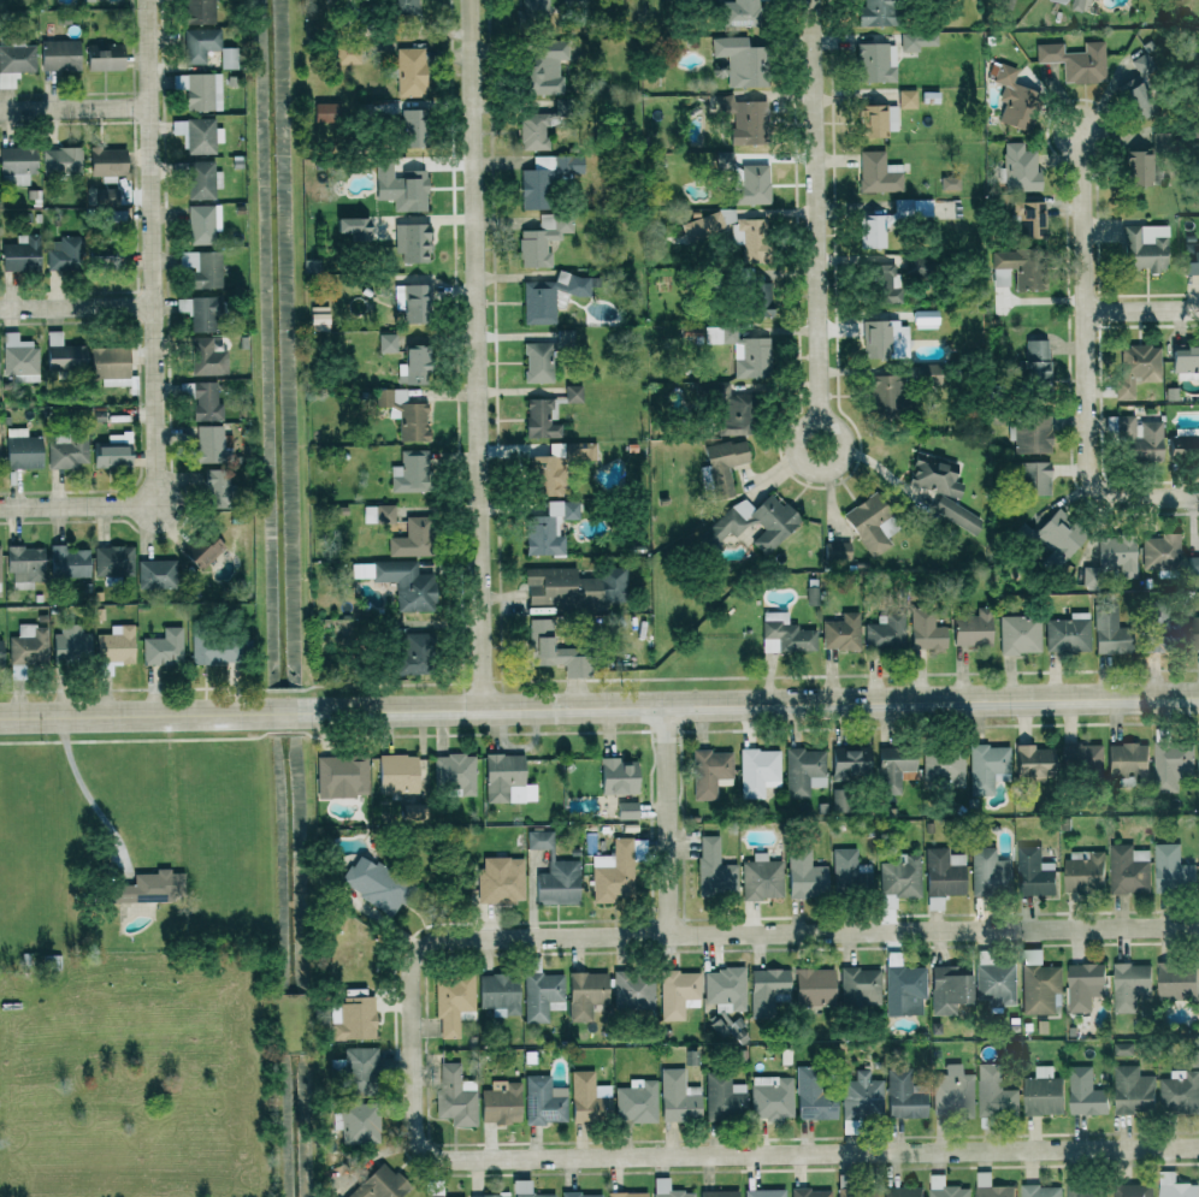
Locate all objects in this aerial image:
building: (584, 0)
building: (1062, 1)
building: (1079, 5)
building: (403, 7)
building: (534, 10)
building: (199, 11)
building: (740, 12)
building: (878, 13)
building: (920, 40)
building: (200, 43)
building: (347, 53)
building: (59, 54)
building: (105, 57)
building: (229, 57)
building: (740, 60)
building: (1076, 60)
building: (876, 61)
building: (16, 63)
building: (543, 65)
building: (409, 71)
building: (201, 90)
building: (1011, 94)
building: (1138, 97)
building: (906, 99)
road: (73, 109)
building: (325, 112)
building: (745, 119)
building: (878, 119)
building: (413, 126)
building: (533, 131)
building: (197, 135)
building: (1158, 138)
building: (61, 160)
building: (725, 160)
building: (107, 162)
building: (16, 165)
building: (1021, 167)
building: (1138, 167)
building: (879, 172)
building: (545, 177)
building: (202, 179)
building: (950, 182)
building: (752, 184)
building: (401, 188)
building: (107, 196)
building: (912, 208)
road: (817, 211)
building: (1029, 218)
building: (202, 223)
building: (705, 226)
building: (352, 227)
building: (875, 229)
building: (542, 238)
building: (750, 238)
building: (411, 241)
building: (1145, 247)
building: (65, 253)
road: (150, 253)
building: (20, 254)
building: (110, 255)
building: (1191, 259)
building: (917, 265)
building: (202, 267)
building: (1016, 269)
building: (882, 285)
building: (549, 296)
building: (757, 298)
building: (412, 302)
road: (76, 307)
road: (1142, 308)
building: (199, 312)
building: (318, 318)
building: (925, 319)
building: (713, 334)
building: (886, 338)
building: (386, 342)
building: (63, 352)
road: (474, 354)
building: (19, 357)
building: (207, 357)
building: (752, 357)
building: (1141, 360)
building: (1036, 362)
road: (1086, 362)
building: (1186, 362)
building: (111, 366)
building: (412, 366)
building: (928, 374)
building: (886, 392)
building: (573, 393)
building: (207, 401)
building: (730, 411)
building: (404, 413)
building: (539, 419)
road: (822, 421)
building: (1029, 432)
building: (1138, 437)
building: (212, 444)
building: (1185, 444)
building: (22, 449)
building: (67, 450)
building: (579, 451)
building: (111, 455)
building: (722, 466)
building: (409, 472)
building: (544, 474)
building: (934, 475)
building: (1033, 478)
building: (218, 488)
road: (78, 505)
building: (956, 512)
building: (378, 514)
building: (776, 523)
building: (870, 525)
building: (549, 527)
building: (412, 538)
building: (1053, 538)
building: (838, 551)
building: (1160, 552)
building: (207, 553)
building: (1118, 555)
building: (113, 561)
building: (69, 562)
building: (1192, 564)
building: (0, 565)
building: (25, 565)
building: (155, 573)
building: (406, 583)
building: (575, 587)
building: (811, 595)
building: (973, 628)
building: (926, 629)
building: (886, 630)
building: (841, 632)
building: (1110, 632)
building: (1068, 633)
building: (1162, 633)
building: (1195, 633)
building: (785, 634)
building: (1020, 634)
building: (71, 644)
building: (29, 645)
building: (114, 647)
building: (164, 647)
building: (213, 651)
building: (553, 651)
building: (412, 656)
building: (0, 658)
road: (598, 705)
building: (1081, 758)
building: (1127, 759)
building: (1033, 760)
building: (850, 762)
building: (1171, 764)
building: (944, 766)
building: (893, 768)
building: (987, 768)
building: (709, 771)
building: (758, 771)
building: (804, 771)
building: (455, 772)
building: (397, 774)
building: (342, 776)
building: (618, 776)
building: (507, 780)
road: (83, 790)
building: (838, 800)
building: (627, 810)
road: (667, 817)
building: (543, 839)
building: (1171, 867)
building: (1128, 869)
building: (714, 870)
building: (850, 870)
building: (990, 871)
building: (1083, 871)
building: (614, 872)
building: (944, 872)
building: (1035, 872)
building: (805, 876)
building: (900, 876)
building: (762, 878)
building: (501, 881)
building: (559, 882)
building: (373, 884)
building: (148, 887)
building: (888, 901)
road: (755, 929)
building: (1176, 980)
building: (1083, 984)
building: (1129, 984)
building: (996, 985)
building: (861, 986)
building: (815, 988)
building: (1040, 988)
building: (905, 989)
building: (950, 989)
building: (633, 990)
building: (767, 990)
building: (725, 991)
building: (500, 994)
building: (586, 994)
building: (679, 994)
building: (542, 995)
building: (454, 1002)
building: (353, 1019)
building: (1122, 1048)
building: (355, 1068)
building: (1132, 1090)
building: (1180, 1091)
building: (953, 1092)
building: (994, 1092)
building: (1043, 1092)
building: (1085, 1092)
building: (456, 1096)
building: (725, 1096)
building: (813, 1096)
building: (862, 1096)
building: (904, 1096)
building: (679, 1097)
building: (772, 1097)
building: (586, 1098)
building: (544, 1101)
building: (637, 1101)
building: (356, 1122)
road: (756, 1154)
building: (379, 1184)
building: (991, 1186)
building: (1176, 1186)
building: (945, 1187)
building: (526, 1190)
building: (1133, 1190)
building: (903, 1191)
building: (1041, 1191)
building: (1087, 1191)
building: (811, 1192)
building: (719, 1193)
building: (764, 1193)
building: (857, 1193)
building: (490, 1195)
building: (581, 1195)
building: (627, 1195)
building: (449, 1196)

